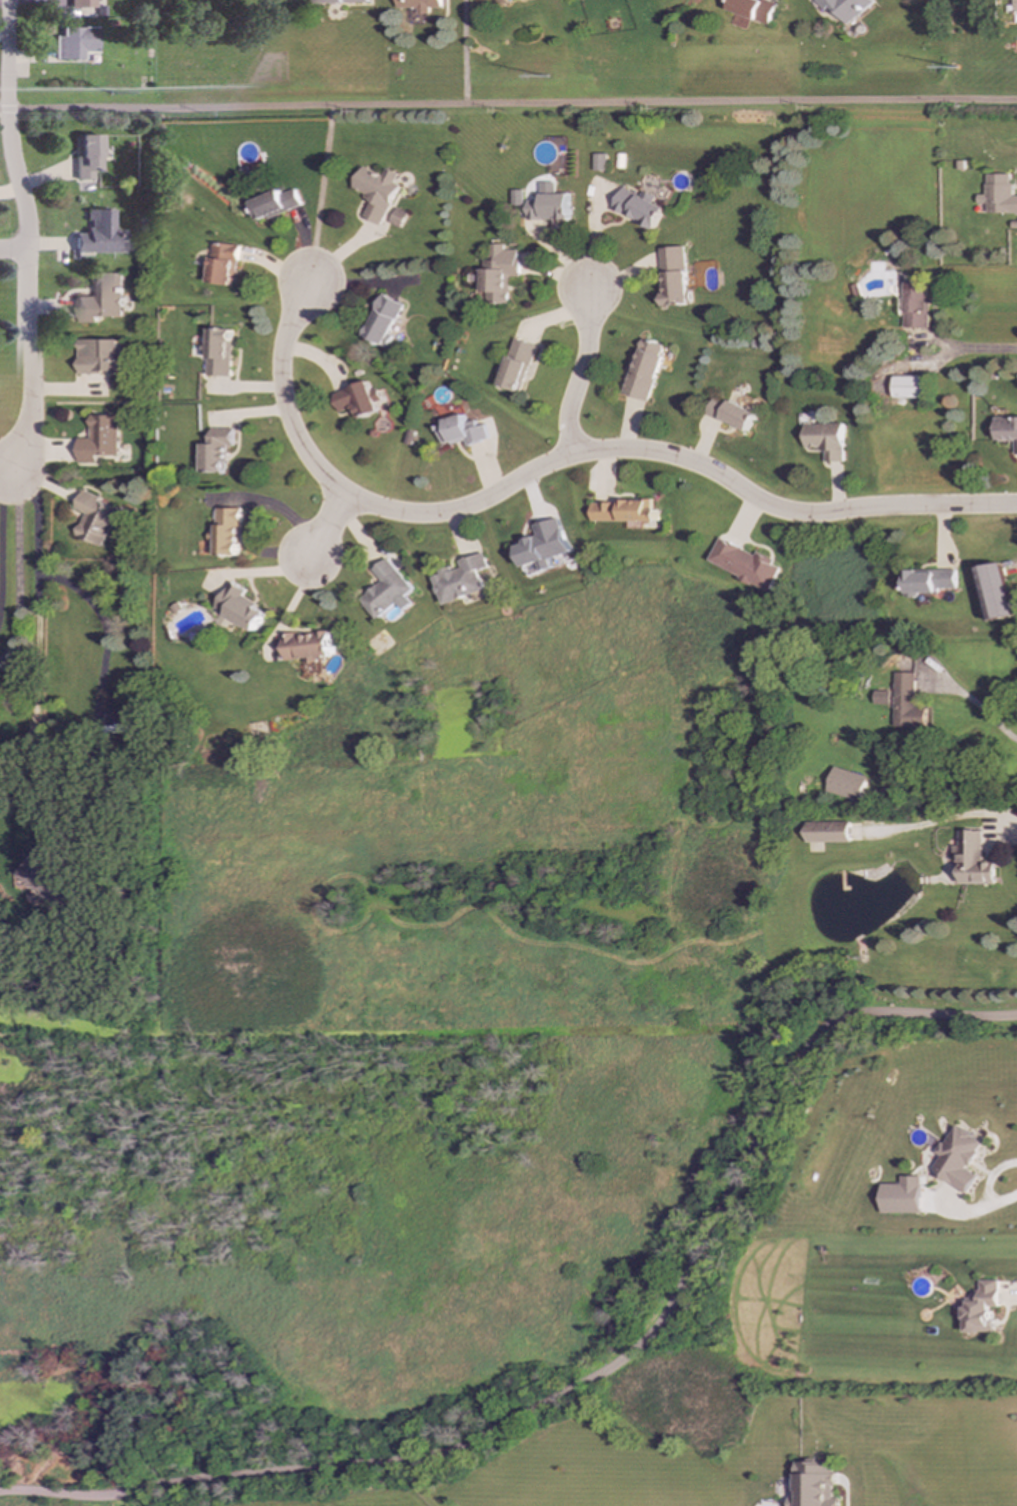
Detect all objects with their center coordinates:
building: (342, 1)
building: (82, 4)
building: (1010, 4)
building: (419, 5)
building: (847, 8)
building: (76, 43)
road: (464, 51)
power tower: (1013, 69)
power tower: (561, 73)
power tower: (109, 79)
road: (508, 102)
road: (8, 125)
building: (88, 156)
building: (601, 163)
road: (320, 192)
building: (377, 192)
building: (998, 195)
building: (274, 204)
building: (551, 208)
building: (640, 208)
building: (399, 218)
building: (100, 234)
road: (14, 249)
building: (222, 263)
building: (500, 273)
building: (676, 276)
building: (101, 299)
building: (915, 305)
building: (384, 321)
road: (975, 349)
building: (217, 352)
building: (98, 356)
road: (27, 362)
building: (519, 365)
building: (646, 370)
road: (582, 373)
building: (909, 387)
building: (357, 400)
building: (733, 414)
building: (1007, 430)
building: (461, 431)
building: (97, 439)
building: (827, 440)
building: (215, 450)
road: (558, 460)
road: (5, 467)
road: (5, 474)
road: (5, 488)
building: (625, 512)
building: (94, 519)
road: (327, 526)
building: (227, 532)
building: (544, 545)
building: (745, 564)
road: (16, 566)
building: (461, 580)
building: (930, 581)
building: (387, 591)
building: (996, 592)
building: (239, 608)
road: (100, 619)
building: (307, 645)
road: (36, 678)
road: (972, 702)
building: (909, 703)
building: (847, 784)
building: (44, 816)
road: (947, 818)
building: (827, 832)
building: (973, 860)
building: (45, 878)
building: (958, 1158)
building: (903, 1196)
road: (972, 1212)
road: (1010, 1293)
building: (981, 1308)
road: (595, 1376)
building: (814, 1485)

